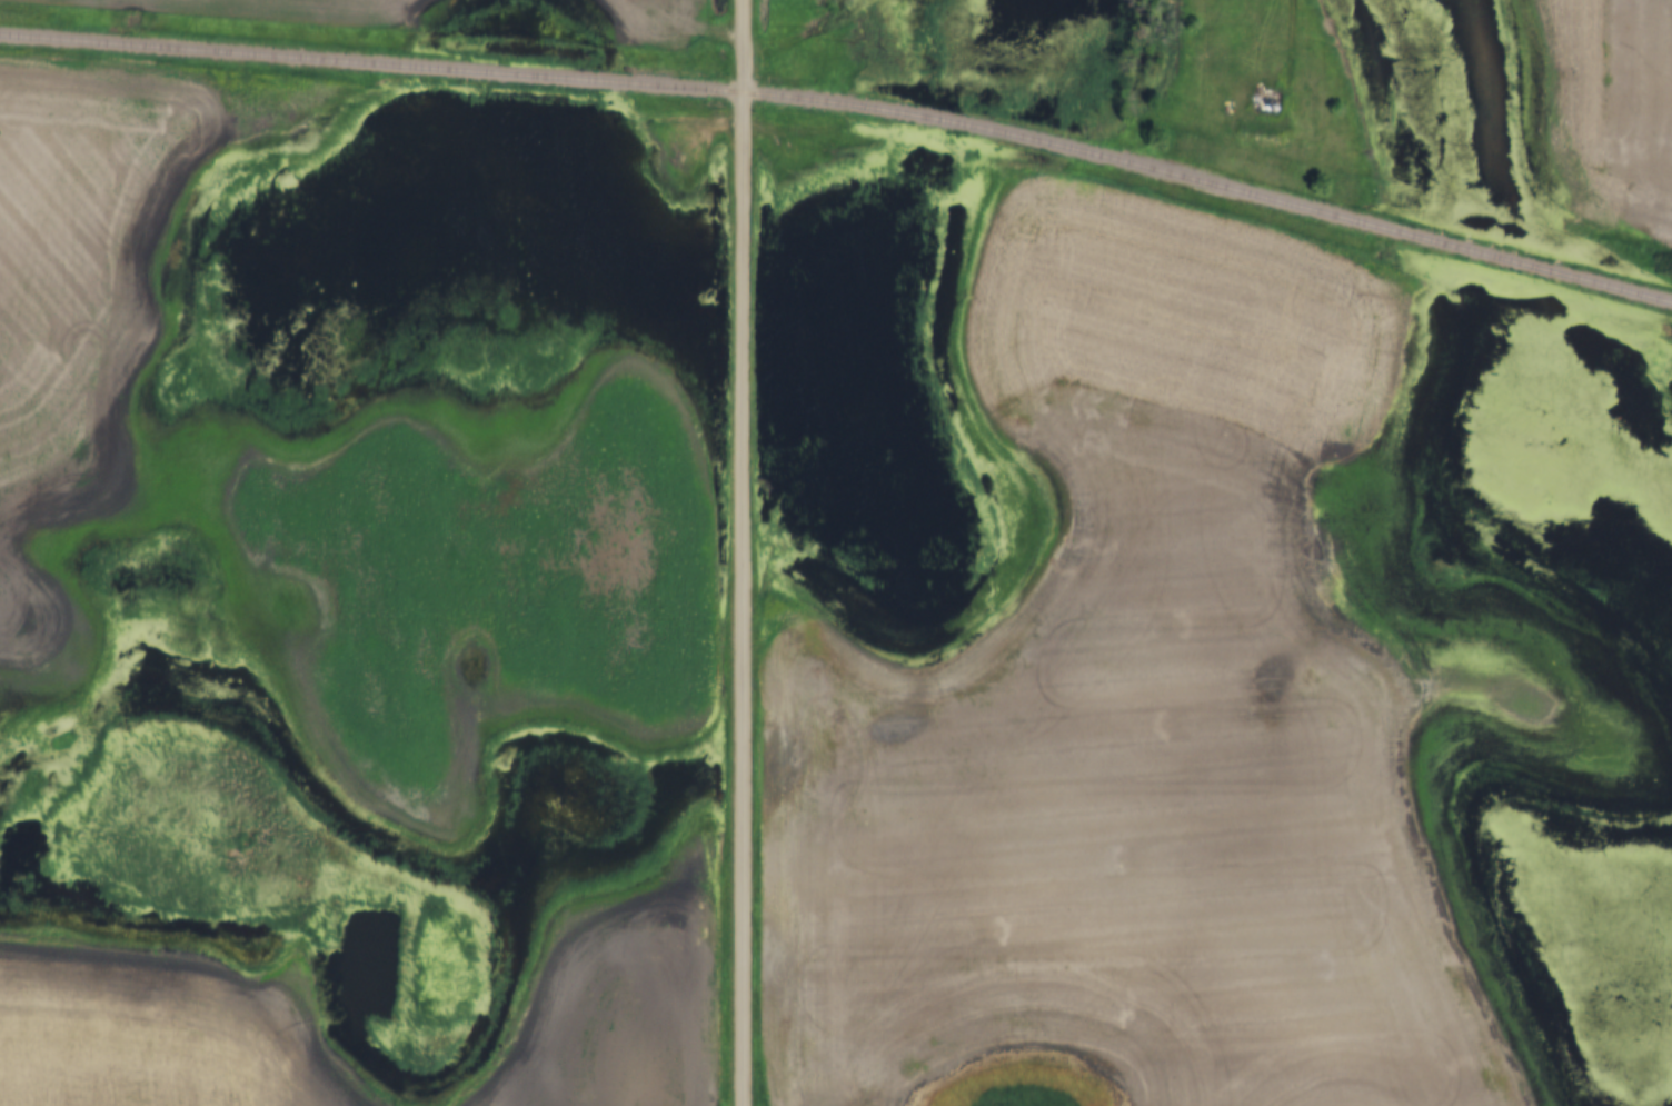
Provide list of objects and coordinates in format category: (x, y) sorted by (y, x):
railway: (846, 104)
road: (742, 552)

